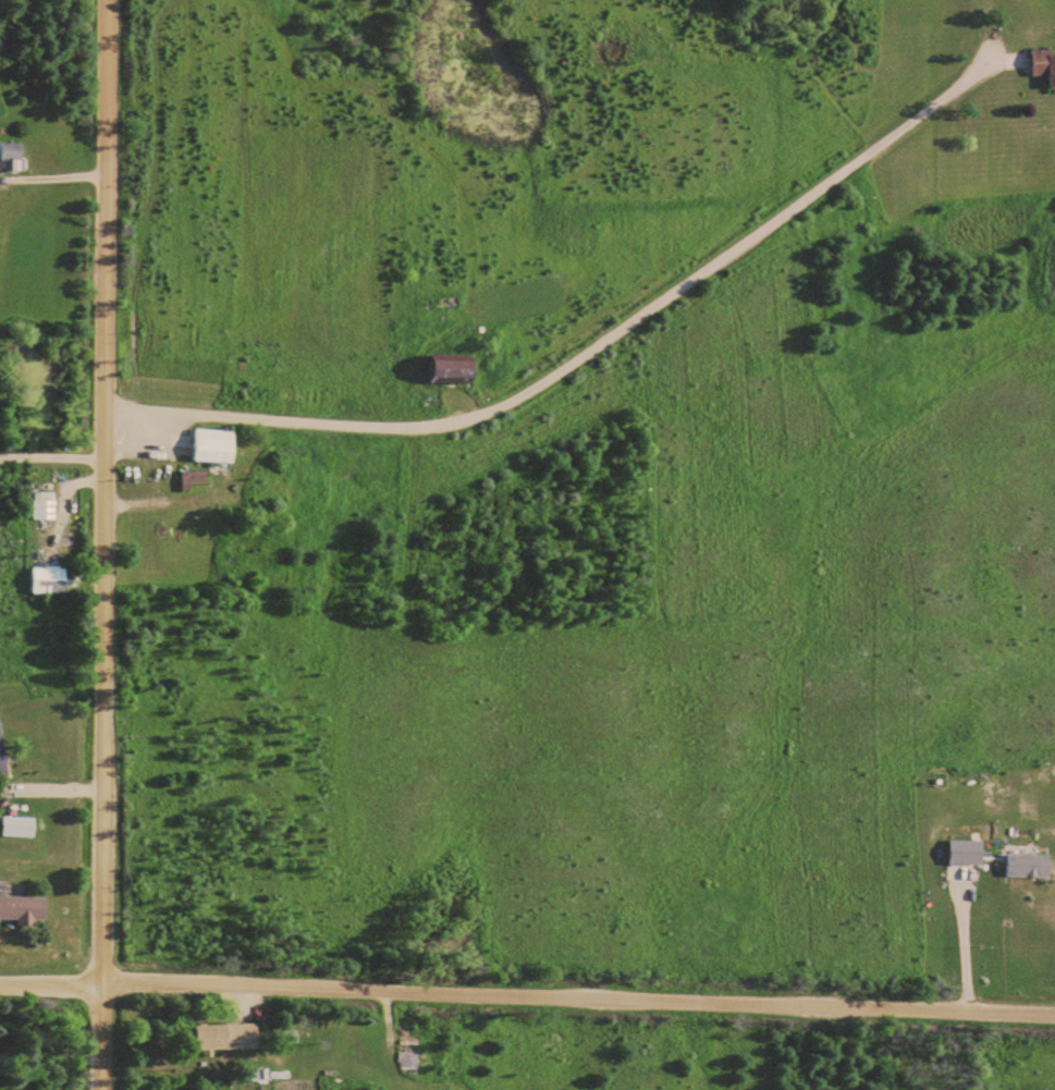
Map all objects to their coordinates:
building: (1044, 64)
building: (11, 156)
road: (52, 174)
road: (582, 340)
building: (454, 366)
building: (216, 446)
road: (52, 461)
building: (45, 506)
road: (103, 544)
building: (50, 580)
building: (2, 755)
building: (19, 826)
building: (1028, 865)
building: (24, 908)
road: (527, 993)
building: (226, 1036)

